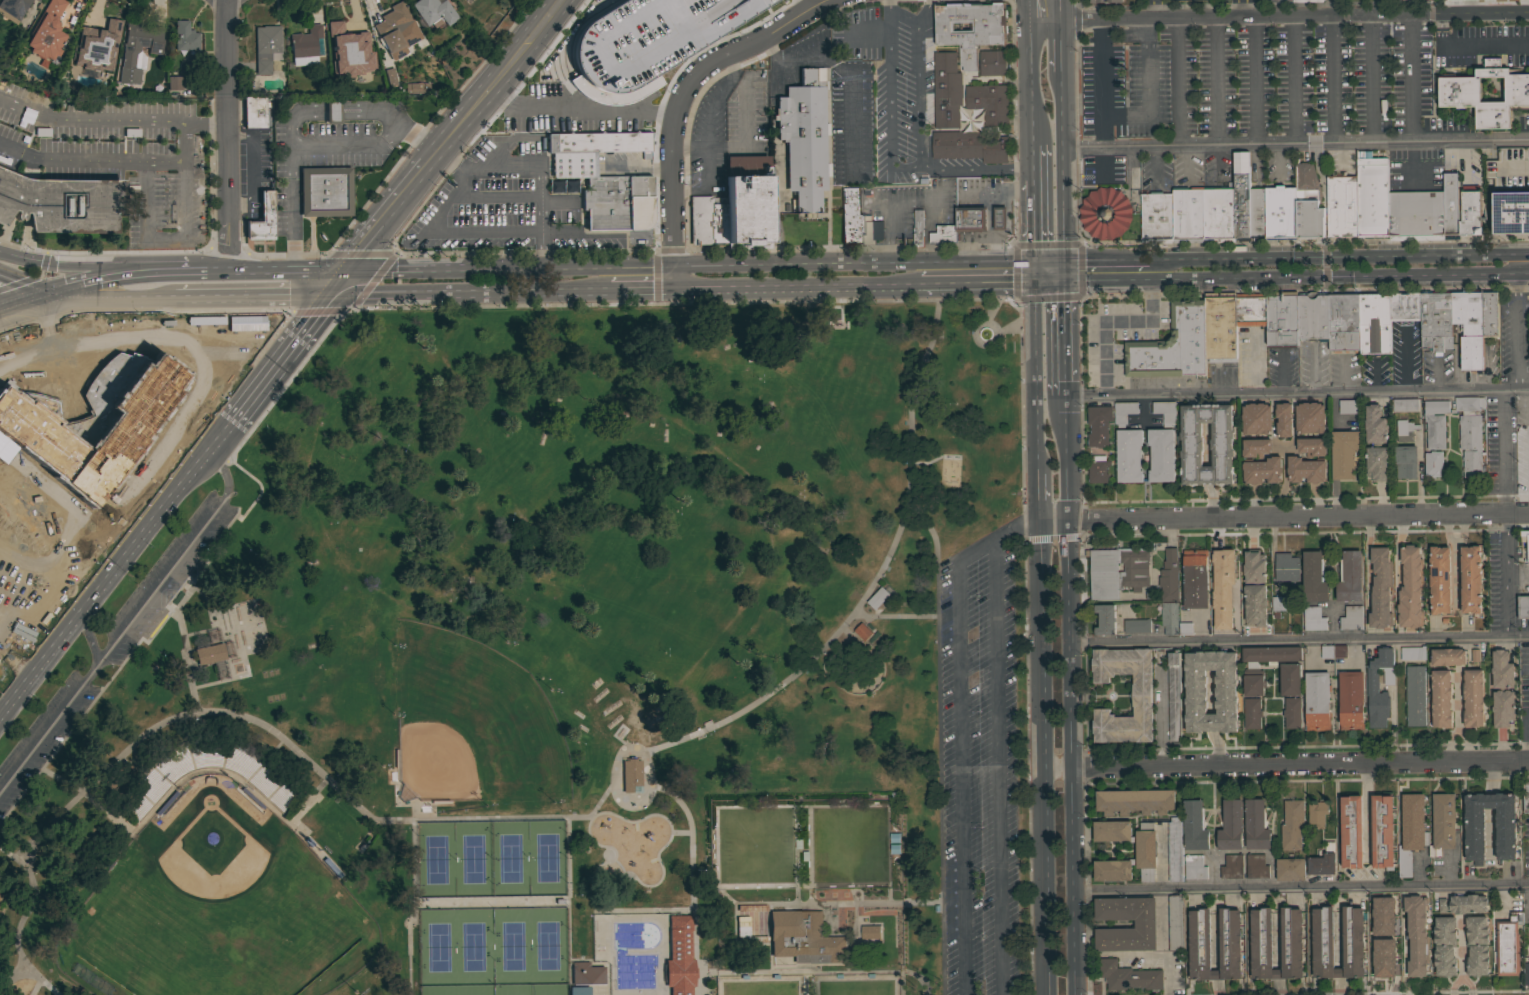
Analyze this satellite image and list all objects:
building: (36, 0)
building: (1306, 0)
building: (1106, 1)
building: (1280, 2)
building: (1401, 3)
road: (1517, 6)
road: (1332, 7)
road: (1156, 8)
road: (1240, 8)
building: (12, 9)
road: (1030, 10)
road: (1061, 10)
building: (433, 12)
road: (1279, 14)
building: (348, 29)
road: (1443, 29)
building: (46, 30)
building: (395, 30)
building: (184, 37)
building: (649, 37)
building: (969, 38)
building: (304, 44)
road: (1486, 44)
road: (1061, 46)
building: (96, 47)
building: (266, 47)
building: (137, 49)
building: (350, 53)
building: (992, 62)
building: (190, 65)
road: (846, 74)
building: (970, 74)
building: (390, 76)
road: (1410, 78)
road: (1333, 79)
road: (1368, 79)
road: (1294, 80)
road: (1215, 81)
road: (1254, 81)
road: (1178, 82)
parking lot: (1253, 82)
building: (174, 83)
road: (490, 83)
road: (1032, 83)
road: (1099, 84)
building: (946, 89)
building: (1459, 89)
road: (684, 92)
building: (989, 102)
road: (575, 109)
building: (332, 111)
building: (254, 112)
road: (360, 113)
road: (294, 116)
road: (90, 120)
road: (185, 124)
road: (409, 131)
road: (227, 134)
building: (804, 138)
road: (352, 140)
building: (969, 145)
road: (1296, 145)
road: (70, 157)
road: (446, 157)
road: (1465, 161)
road: (1411, 164)
road: (1034, 165)
road: (1064, 165)
road: (977, 166)
road: (907, 167)
road: (1516, 169)
road: (466, 176)
building: (604, 178)
building: (325, 192)
building: (1372, 195)
building: (1241, 196)
road: (905, 201)
building: (1308, 202)
road: (292, 203)
building: (61, 204)
building: (1341, 205)
building: (1450, 205)
building: (732, 212)
building: (1105, 212)
building: (1280, 212)
building: (1511, 212)
building: (1188, 214)
building: (1218, 214)
building: (1257, 214)
building: (1470, 214)
building: (1416, 215)
road: (384, 217)
building: (999, 217)
building: (1156, 217)
building: (971, 218)
building: (262, 220)
building: (857, 221)
road: (1035, 222)
building: (918, 228)
road: (526, 230)
road: (540, 231)
building: (943, 234)
road: (184, 238)
road: (1078, 243)
road: (1304, 243)
road: (1517, 252)
road: (1326, 254)
road: (543, 257)
road: (1106, 258)
road: (1050, 259)
traffic signals: (1064, 259)
road: (854, 262)
road: (67, 265)
road: (641, 265)
road: (1325, 265)
road: (528, 267)
road: (170, 268)
road: (396, 268)
road: (240, 269)
road: (311, 269)
traffic signals: (345, 269)
road: (1064, 269)
road: (1036, 270)
road: (108, 274)
road: (1337, 274)
road: (673, 276)
road: (1105, 279)
road: (975, 280)
traffic signals: (1036, 280)
road: (1050, 280)
road: (336, 281)
road: (795, 284)
road: (21, 286)
road: (61, 286)
road: (639, 287)
road: (1305, 289)
road: (466, 291)
road: (293, 293)
traffic signals: (327, 293)
traffic signals: (42, 295)
road: (107, 295)
road: (216, 295)
road: (21, 302)
road: (687, 303)
building: (1405, 305)
building: (1251, 309)
building: (1490, 314)
building: (1312, 315)
building: (1282, 318)
building: (1436, 320)
road: (1111, 321)
building: (1343, 321)
building: (1374, 322)
building: (1527, 322)
building: (1469, 326)
building: (1220, 327)
road: (1517, 329)
fountain: (983, 334)
fountain: (984, 334)
road: (1064, 338)
road: (220, 344)
building: (1172, 344)
road: (1406, 358)
road: (279, 359)
road: (1314, 368)
road: (1283, 371)
road: (1345, 373)
road: (1037, 375)
road: (1296, 392)
building: (1405, 404)
building: (1165, 411)
building: (1124, 412)
building: (1309, 417)
building: (1256, 418)
building: (1283, 419)
building: (1435, 423)
building: (1098, 425)
building: (28, 428)
building: (1405, 428)
building: (1470, 433)
building: (1376, 443)
building: (1221, 444)
building: (1311, 446)
building: (1255, 447)
road: (1502, 449)
building: (1344, 453)
building: (1161, 454)
building: (1129, 455)
road: (3, 459)
building: (1405, 461)
road: (924, 463)
building: (1433, 463)
building: (1366, 465)
road: (1025, 468)
road: (14, 469)
building: (1098, 469)
building: (1306, 469)
building: (1261, 470)
road: (1038, 495)
road: (46, 507)
road: (1284, 515)
road: (1462, 528)
road: (928, 531)
road: (110, 541)
road: (997, 541)
building: (1525, 544)
road: (1455, 559)
building: (1254, 566)
building: (1287, 568)
building: (1226, 569)
building: (1117, 570)
road: (115, 571)
building: (1169, 574)
road: (1506, 574)
building: (1350, 576)
building: (1313, 577)
building: (1195, 578)
building: (1440, 579)
building: (1458, 580)
building: (1471, 580)
building: (1427, 581)
road: (871, 582)
building: (1399, 587)
building: (1410, 587)
building: (1380, 588)
building: (1217, 596)
building: (1369, 596)
building: (878, 597)
building: (1279, 603)
building: (1255, 604)
building: (1523, 606)
road: (896, 617)
building: (1169, 617)
building: (1105, 618)
building: (1313, 618)
building: (1351, 618)
road: (127, 623)
building: (1222, 623)
building: (1136, 625)
building: (1185, 628)
building: (862, 631)
road: (90, 638)
road: (1299, 639)
building: (1332, 651)
building: (1412, 652)
building: (1271, 653)
building: (209, 654)
building: (1447, 656)
park: (532, 668)
building: (1463, 676)
building: (1289, 678)
building: (1253, 682)
building: (1278, 682)
building: (1243, 686)
building: (1372, 686)
building: (1502, 688)
building: (1196, 691)
building: (1141, 694)
road: (1070, 695)
building: (1415, 695)
building: (1173, 696)
building: (1473, 697)
building: (1441, 698)
building: (1351, 700)
building: (1316, 701)
road: (1458, 703)
building: (1291, 712)
building: (1252, 713)
road: (239, 715)
park: (470, 728)
road: (1527, 739)
road: (1458, 749)
road: (1042, 757)
road: (1300, 763)
parking lot: (985, 770)
road: (998, 770)
building: (630, 775)
road: (937, 778)
road: (959, 780)
building: (1526, 796)
building: (1135, 801)
road: (630, 807)
building: (1316, 815)
building: (1292, 822)
building: (1442, 823)
building: (1256, 824)
building: (1194, 825)
building: (1230, 825)
building: (1381, 830)
building: (1411, 830)
building: (1351, 831)
building: (1505, 833)
road: (680, 834)
building: (1174, 848)
building: (1144, 850)
building: (1460, 854)
road: (11, 857)
park: (489, 859)
building: (1321, 864)
building: (1231, 866)
building: (1256, 866)
building: (1194, 867)
building: (1290, 869)
road: (690, 870)
road: (1301, 888)
road: (532, 903)
building: (1467, 903)
building: (751, 908)
park: (215, 909)
road: (413, 909)
building: (1175, 922)
building: (1144, 923)
building: (1370, 925)
building: (1390, 928)
building: (870, 931)
building: (1182, 932)
building: (1416, 934)
building: (804, 937)
building: (1352, 937)
building: (1291, 938)
building: (752, 939)
building: (1229, 939)
road: (1338, 940)
building: (1508, 944)
building: (1445, 945)
building: (1477, 945)
park: (491, 947)
road: (1461, 949)
building: (679, 957)
road: (1403, 957)
building: (1383, 964)
road: (820, 972)
road: (1338, 972)
building: (1526, 973)
building: (586, 974)
building: (1128, 976)
road: (1460, 978)
road: (1338, 986)
park: (496, 990)
building: (578, 990)
road: (1450, 991)
road: (1470, 991)

